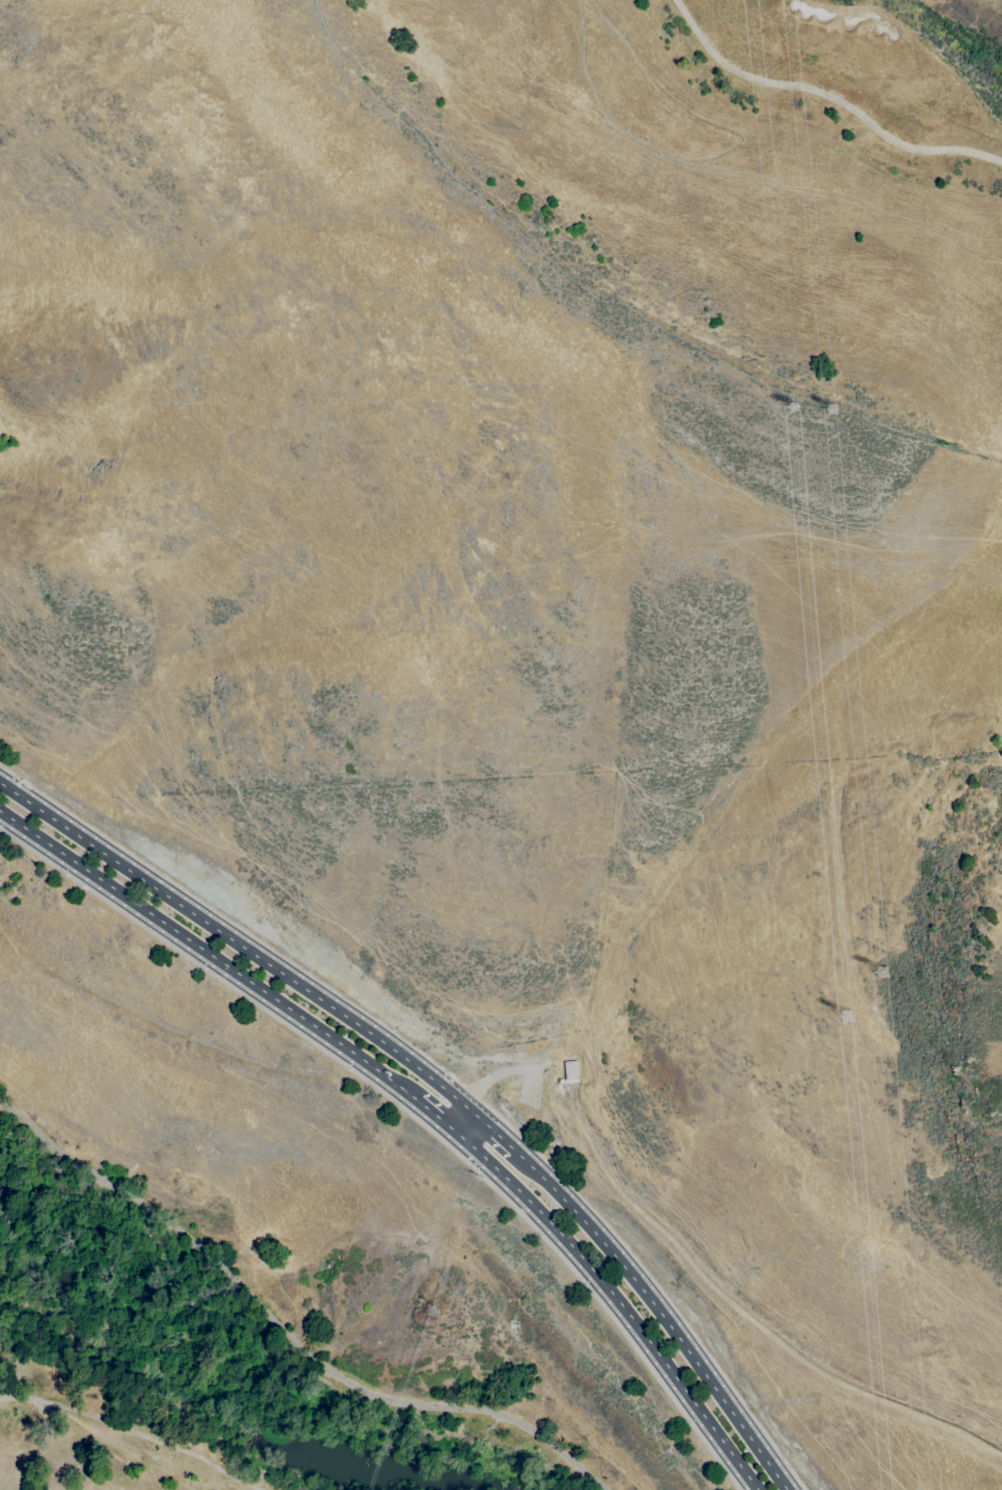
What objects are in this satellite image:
park: (857, 74)
road: (827, 95)
power tower: (794, 407)
power tower: (829, 410)
road: (240, 944)
road: (210, 956)
power tower: (883, 972)
power tower: (851, 1019)
building: (572, 1071)
road: (450, 1076)
road: (410, 1114)
road: (438, 1119)
road: (467, 1126)
road: (498, 1136)
road: (620, 1301)
road: (662, 1317)
road: (292, 1328)
river: (187, 1396)

